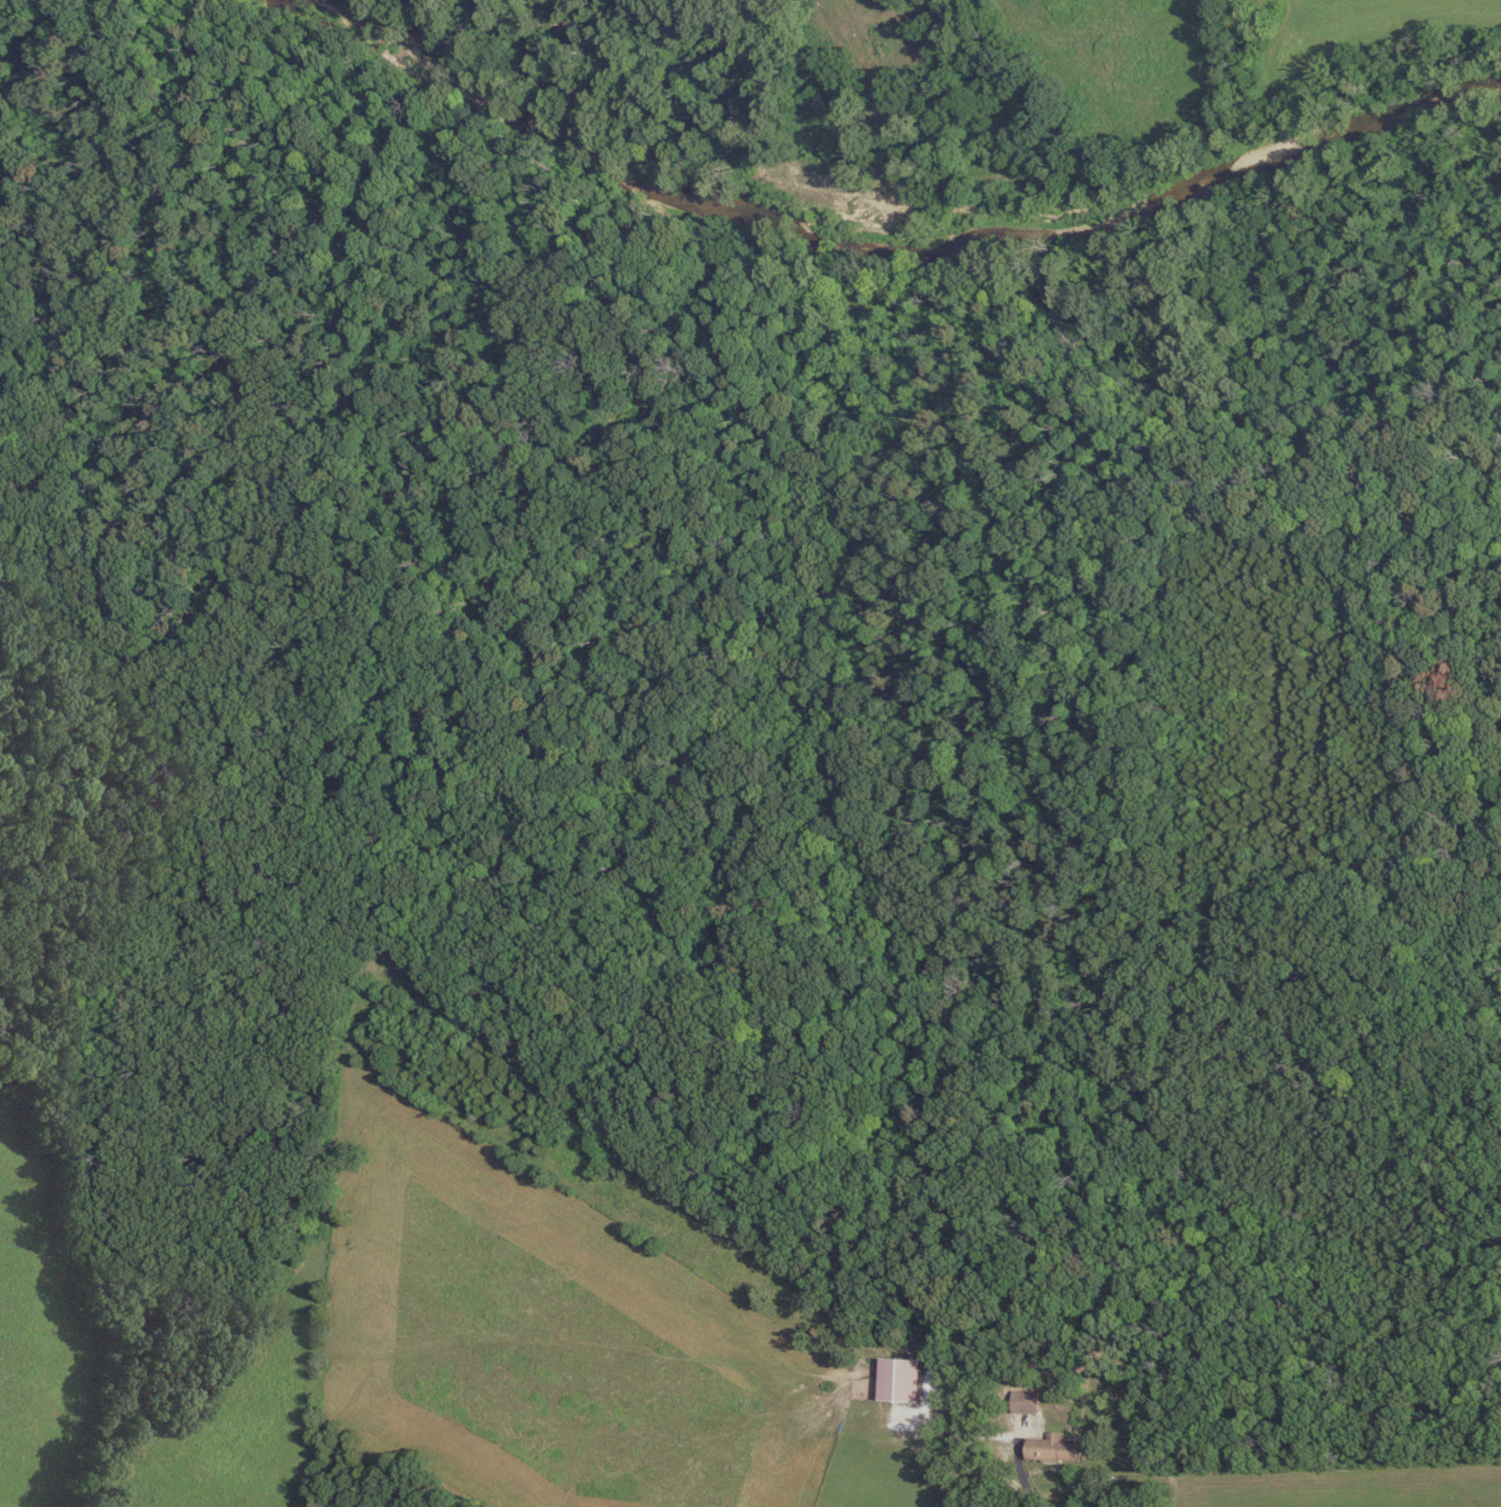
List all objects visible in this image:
building: (898, 1378)
building: (1024, 1401)
building: (1052, 1448)
road: (1018, 1475)

